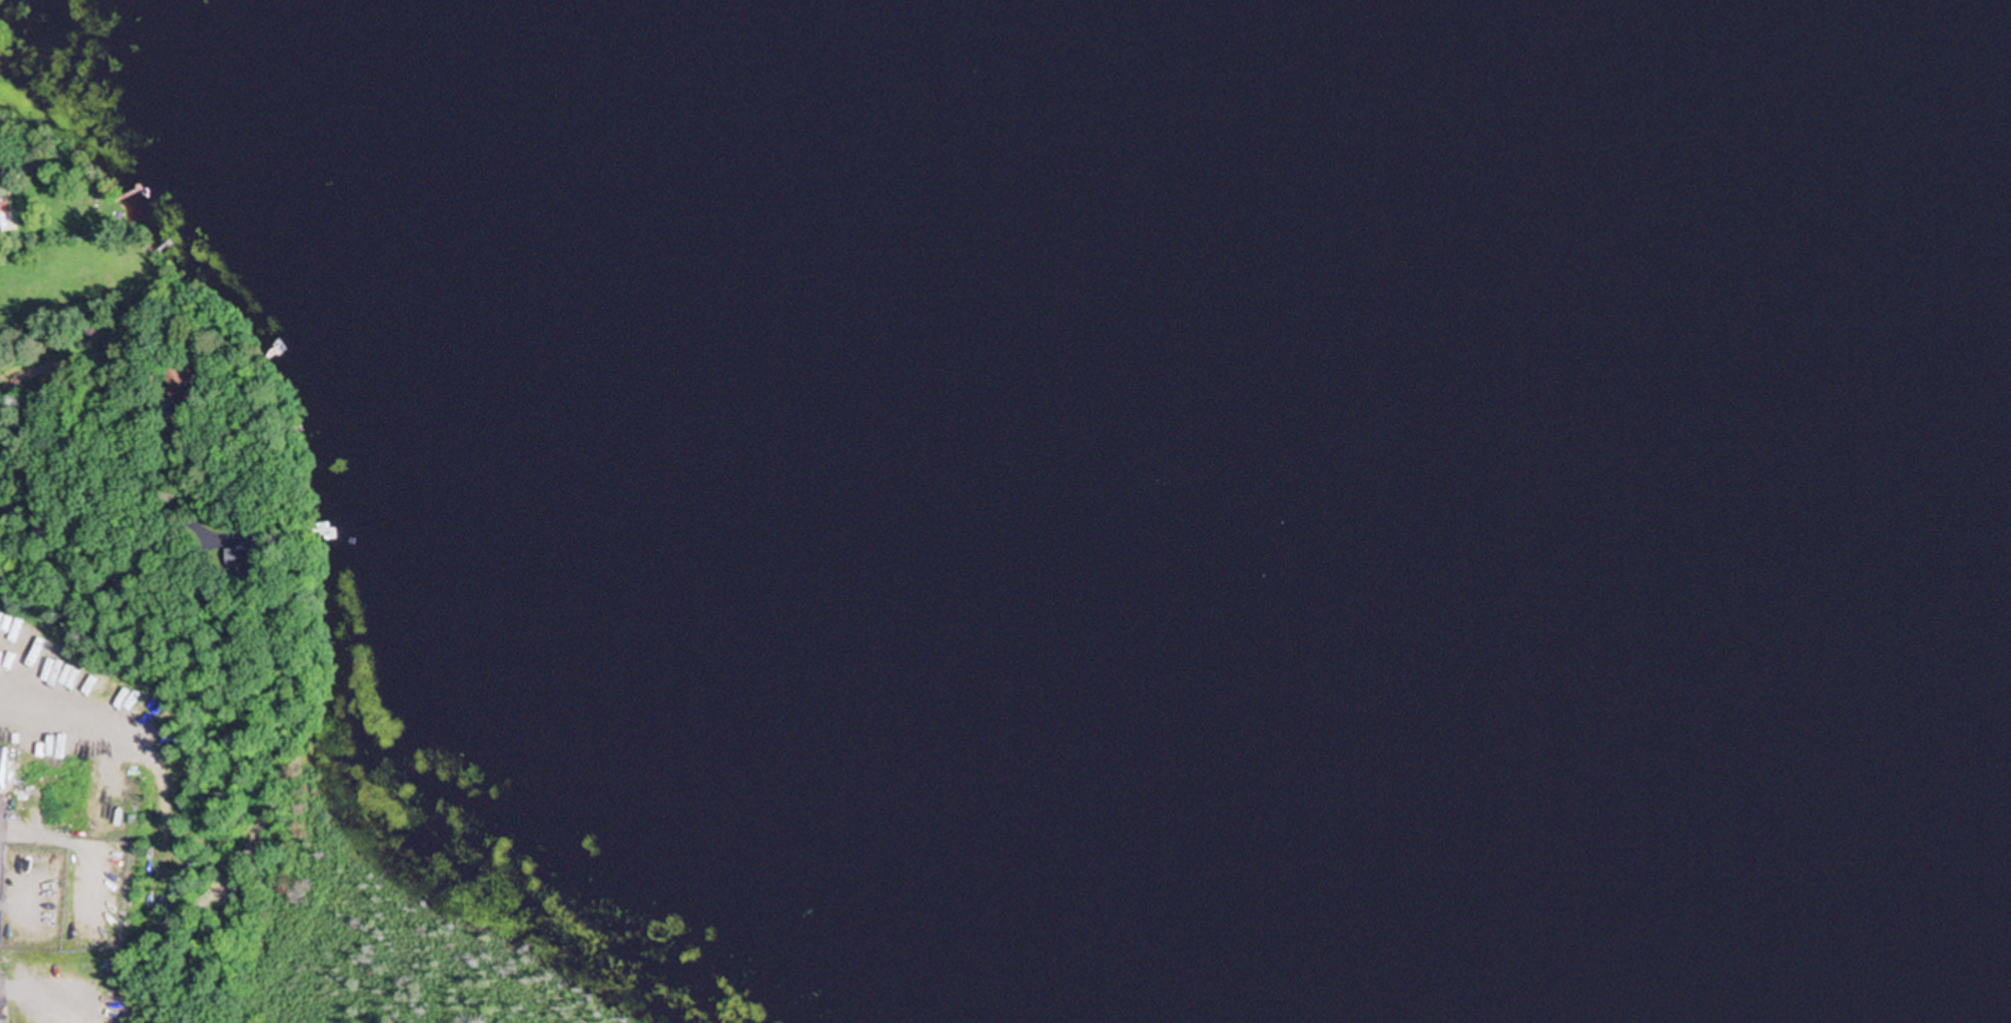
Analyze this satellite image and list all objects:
building: (181, 383)
road: (107, 514)
building: (239, 551)
building: (1, 622)
building: (21, 640)
building: (0, 758)

